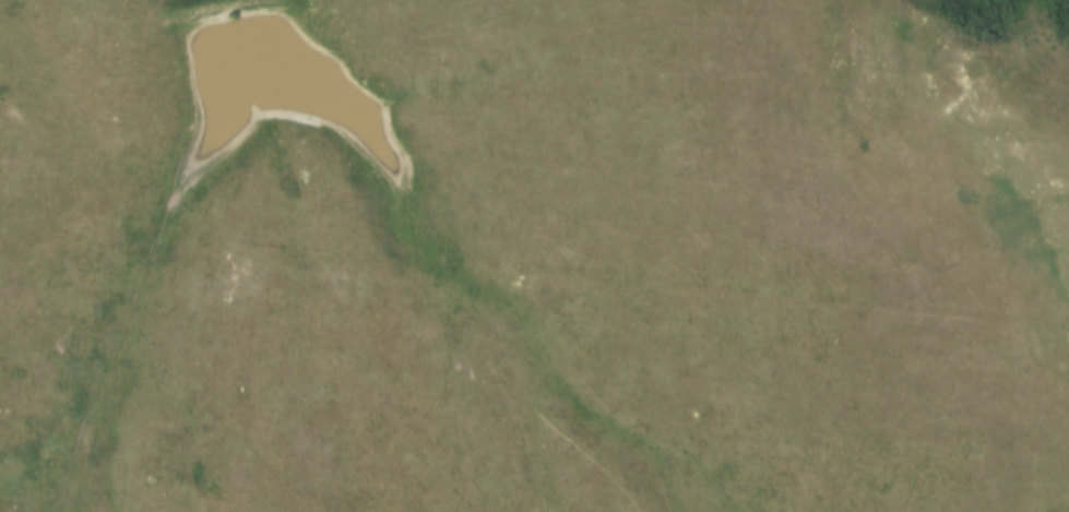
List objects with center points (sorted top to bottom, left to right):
dam: (180, 4)

